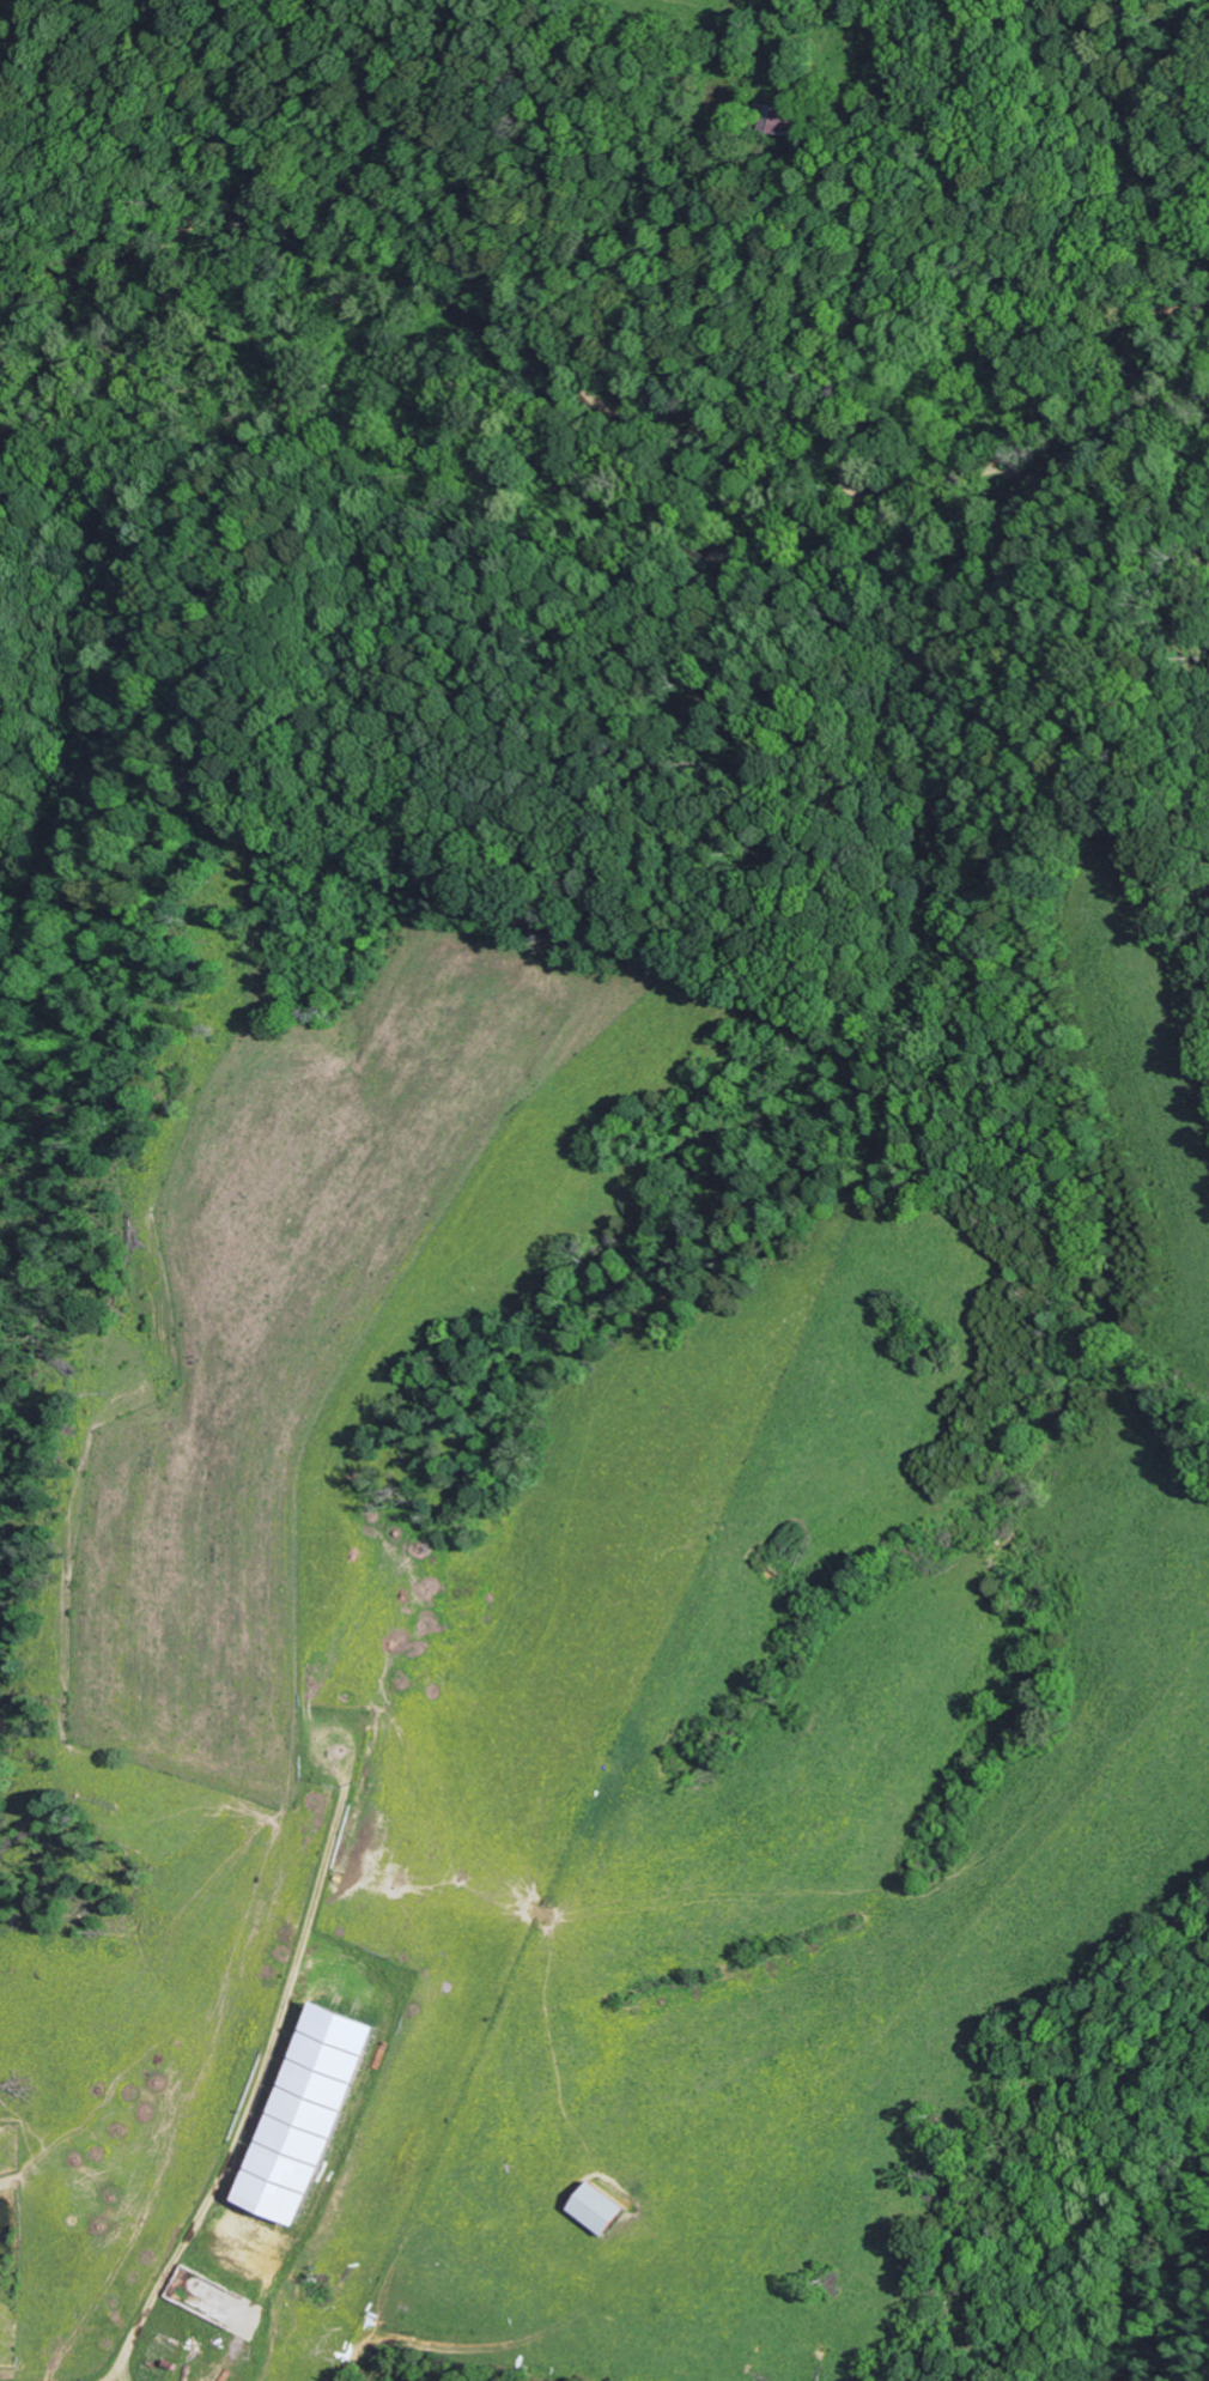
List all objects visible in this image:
building: (310, 2110)
building: (164, 2357)
road: (226, 2359)

